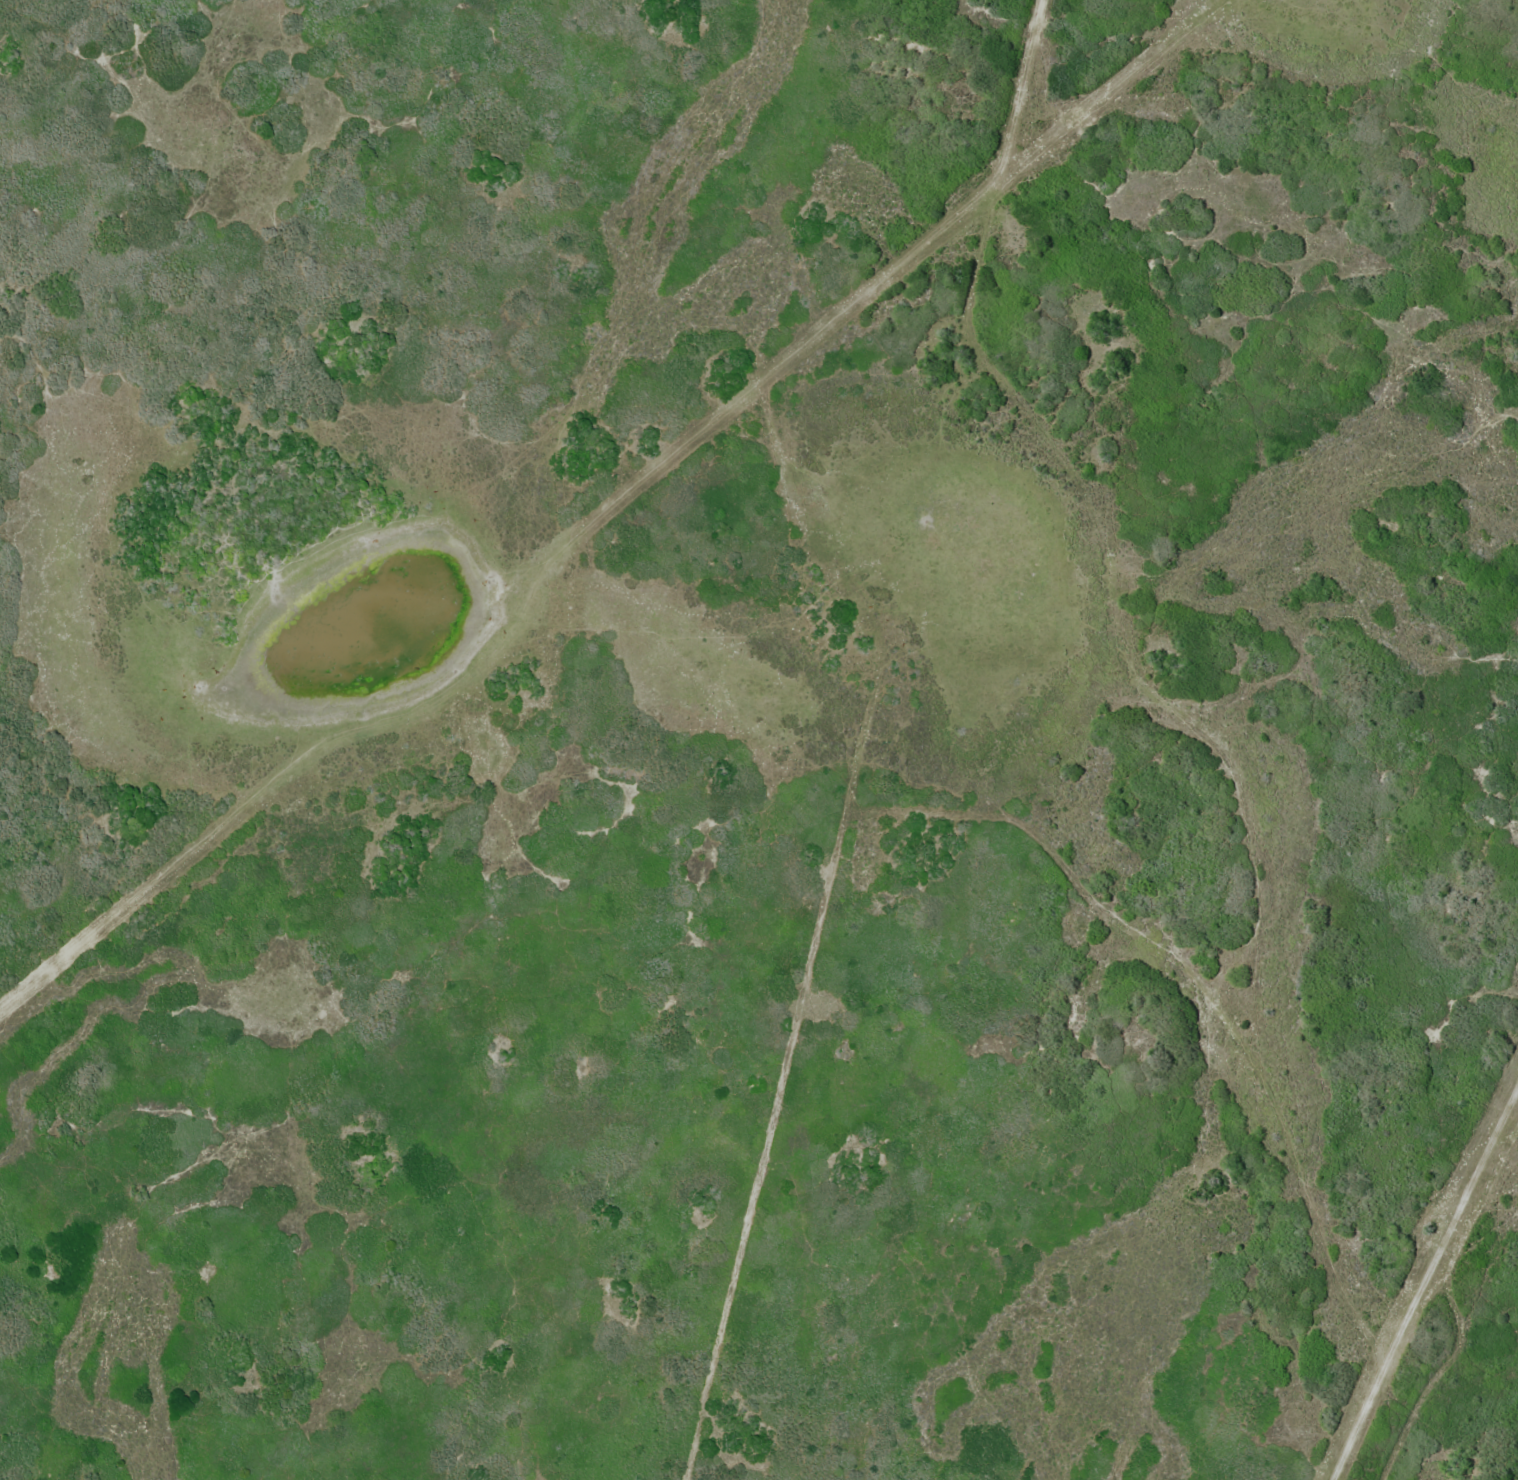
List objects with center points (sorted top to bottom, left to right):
road: (1412, 1263)

